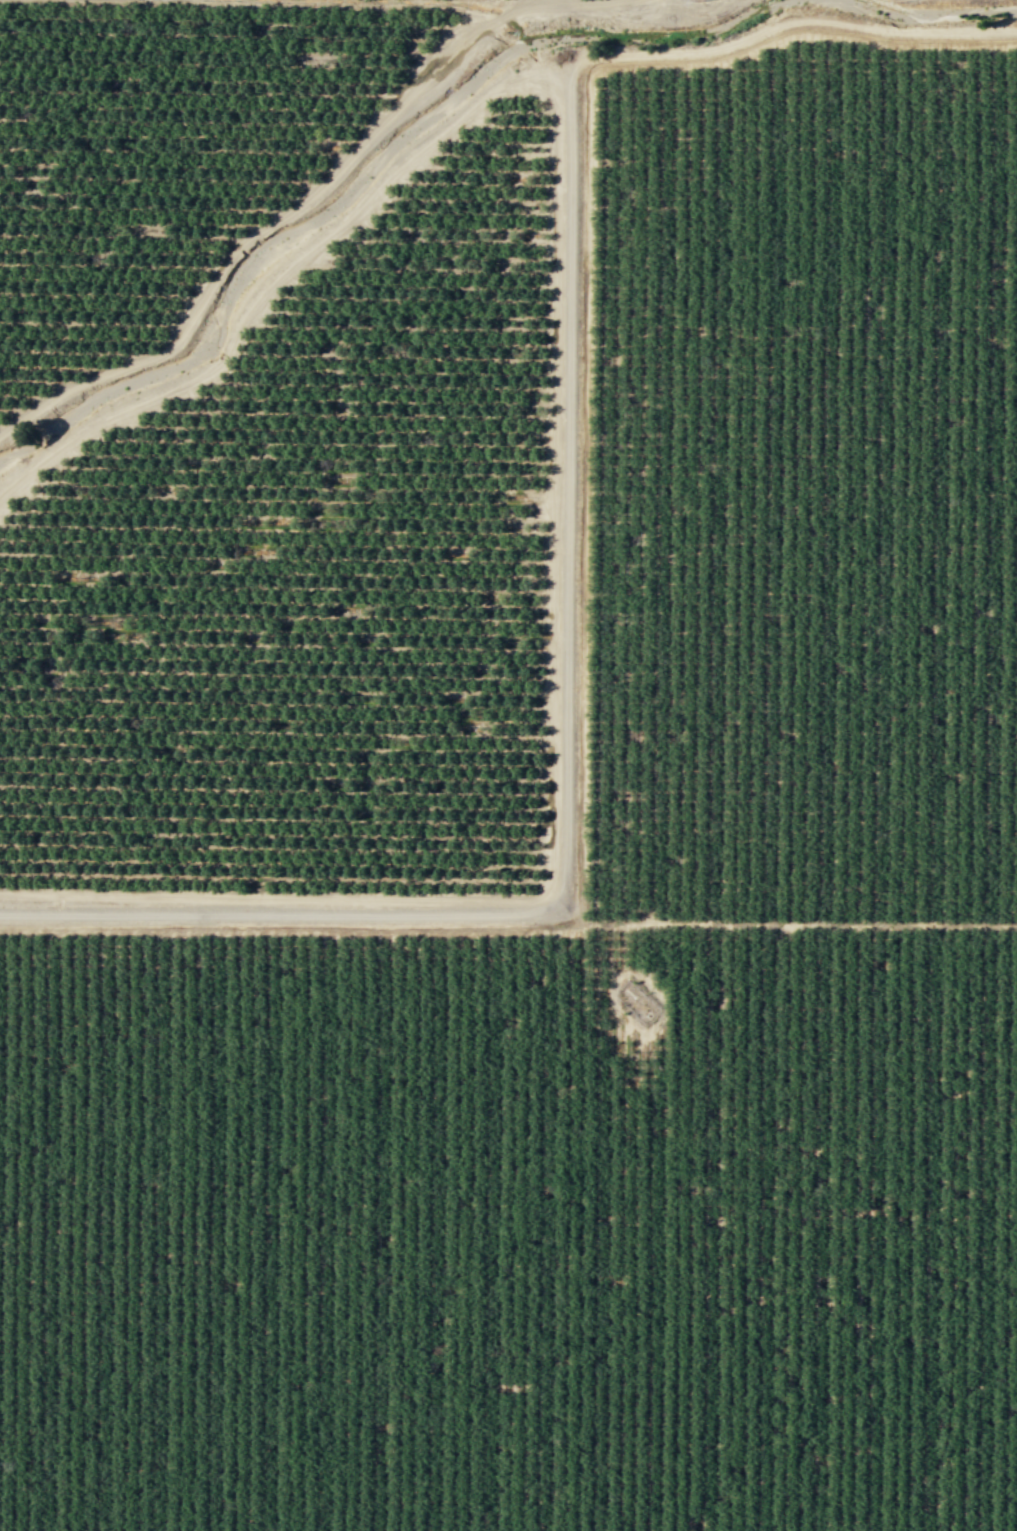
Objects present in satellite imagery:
road: (359, 1)
road: (568, 2)
road: (515, 48)
road: (449, 125)
road: (300, 205)
road: (550, 755)
road: (565, 762)
road: (781, 923)

